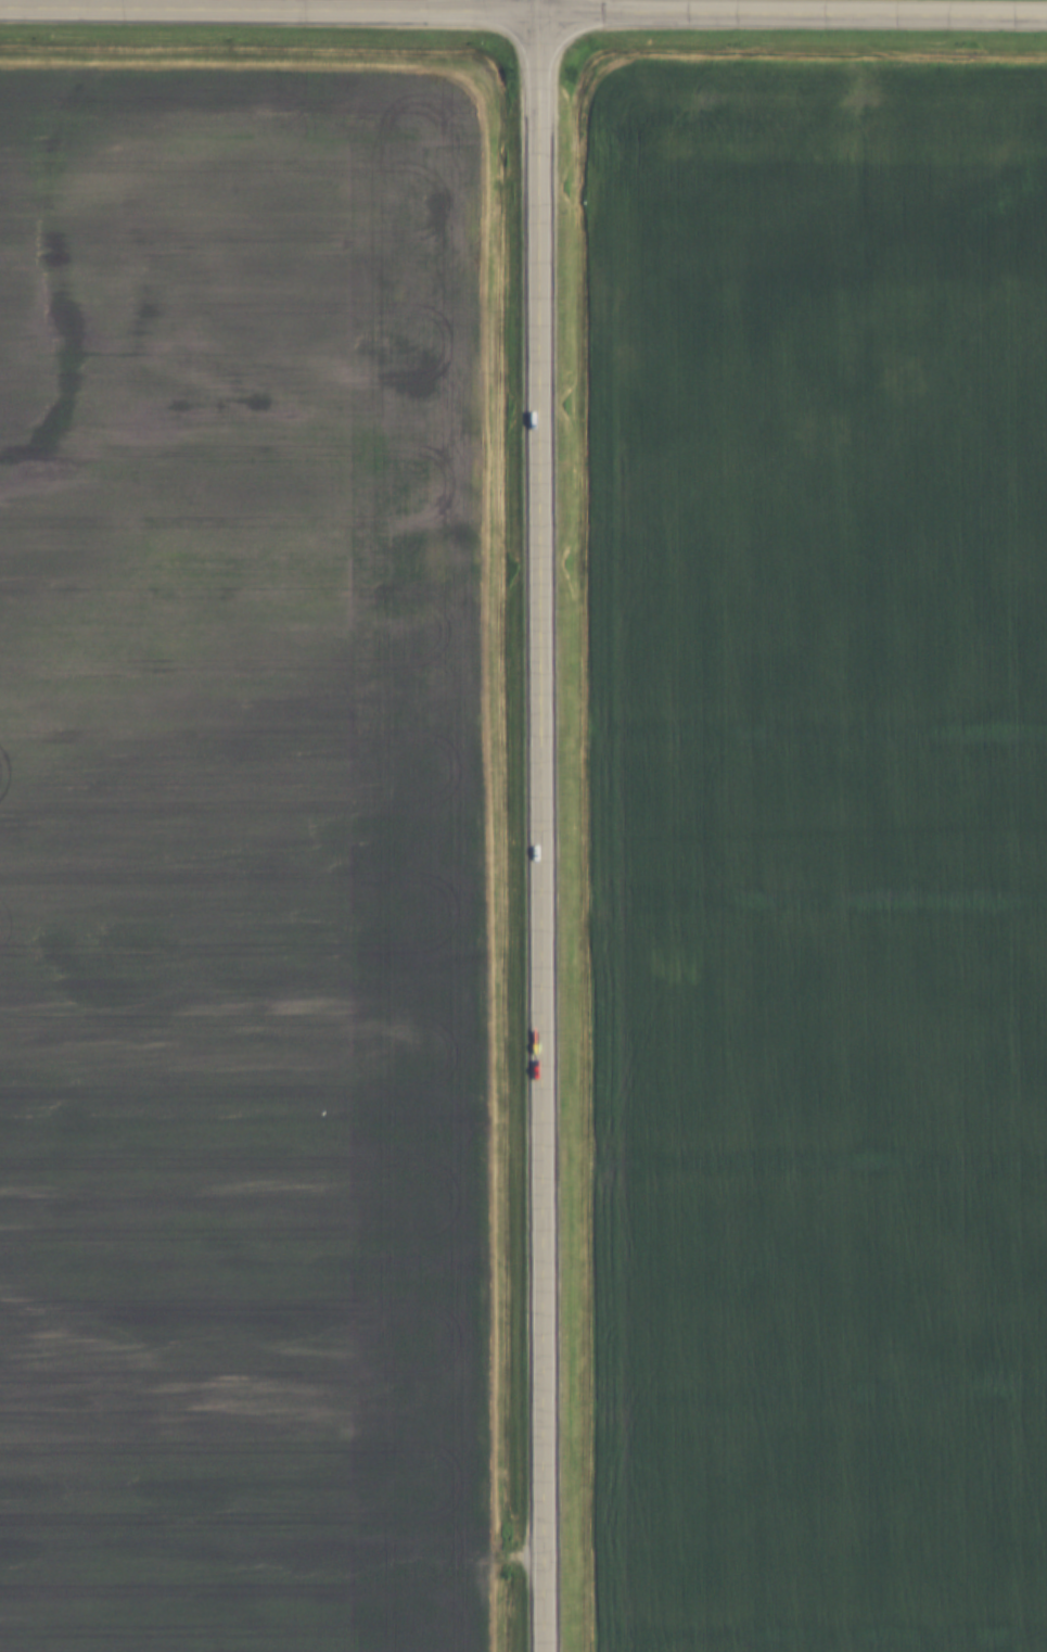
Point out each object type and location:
road: (546, 7)
road: (273, 10)
road: (796, 14)
road: (548, 833)

